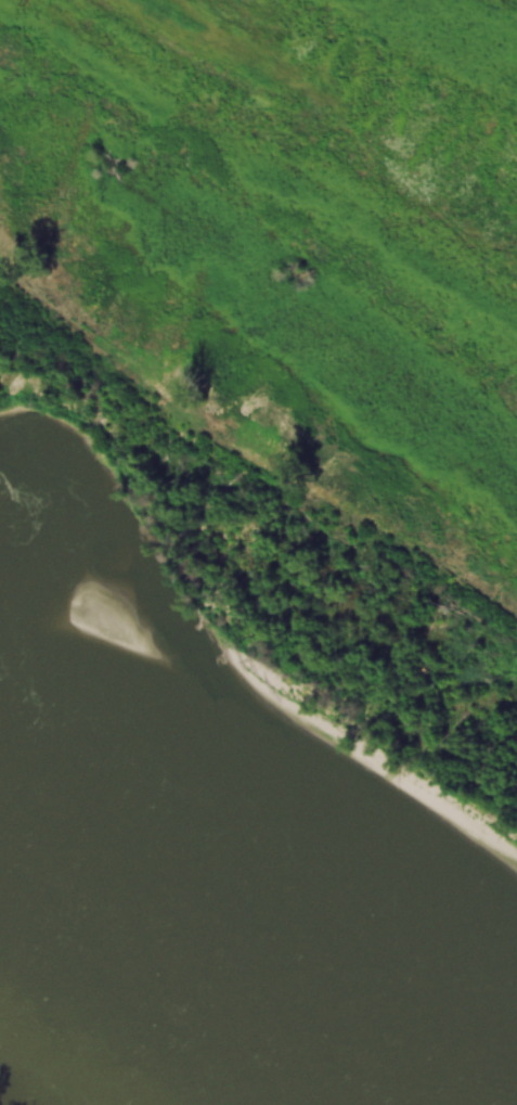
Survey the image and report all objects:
river: (202, 954)

